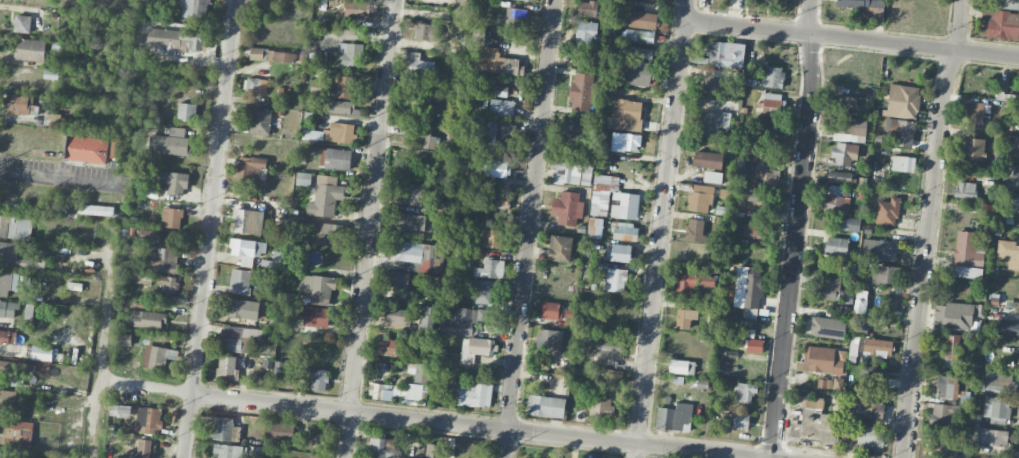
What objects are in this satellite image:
building: (776, 0)
building: (859, 4)
building: (1005, 4)
building: (587, 8)
building: (194, 9)
building: (357, 9)
road: (685, 10)
building: (515, 18)
building: (643, 20)
building: (22, 23)
building: (1002, 24)
building: (426, 31)
building: (587, 33)
building: (639, 35)
building: (173, 39)
road: (851, 39)
building: (30, 50)
building: (638, 52)
building: (725, 54)
building: (272, 55)
building: (349, 55)
building: (493, 60)
building: (420, 64)
building: (635, 73)
building: (772, 77)
building: (255, 86)
building: (712, 86)
building: (317, 87)
building: (343, 87)
building: (501, 88)
building: (581, 92)
building: (1009, 99)
building: (902, 101)
building: (845, 102)
building: (21, 104)
building: (770, 104)
building: (339, 106)
building: (501, 108)
building: (186, 112)
building: (975, 112)
building: (626, 115)
building: (716, 116)
building: (56, 119)
building: (259, 121)
building: (574, 128)
building: (850, 129)
building: (900, 132)
building: (333, 133)
building: (497, 135)
building: (423, 136)
building: (625, 142)
building: (170, 143)
building: (115, 148)
building: (972, 148)
building: (86, 149)
building: (1015, 149)
building: (845, 153)
building: (335, 158)
building: (708, 159)
building: (903, 163)
building: (250, 167)
building: (494, 168)
building: (567, 172)
building: (586, 174)
building: (1015, 174)
road: (58, 175)
building: (712, 177)
building: (766, 177)
building: (839, 177)
building: (303, 179)
building: (170, 181)
building: (965, 189)
building: (602, 192)
building: (409, 194)
building: (325, 196)
building: (755, 196)
building: (487, 198)
building: (700, 198)
building: (837, 199)
building: (1014, 201)
building: (624, 205)
building: (567, 208)
building: (887, 212)
building: (172, 217)
building: (247, 221)
building: (411, 222)
building: (853, 224)
building: (595, 227)
road: (928, 227)
road: (796, 228)
road: (209, 229)
road: (369, 229)
road: (529, 229)
building: (695, 230)
building: (758, 230)
building: (626, 231)
building: (327, 234)
building: (146, 235)
building: (492, 238)
road: (659, 238)
building: (836, 246)
building: (560, 248)
building: (883, 249)
building: (966, 249)
building: (247, 250)
building: (618, 253)
building: (1009, 253)
building: (417, 256)
building: (38, 260)
building: (163, 260)
building: (487, 268)
building: (968, 272)
building: (884, 274)
building: (238, 278)
building: (586, 278)
building: (395, 279)
building: (616, 280)
building: (8, 282)
building: (694, 282)
building: (167, 284)
building: (747, 287)
building: (317, 288)
building: (828, 288)
building: (483, 290)
building: (860, 301)
building: (240, 308)
building: (8, 309)
building: (549, 310)
building: (952, 316)
building: (315, 317)
building: (570, 317)
building: (397, 318)
building: (428, 318)
building: (685, 318)
building: (149, 319)
building: (461, 320)
building: (827, 327)
building: (1008, 327)
building: (7, 337)
building: (237, 338)
building: (549, 339)
building: (123, 340)
building: (754, 346)
building: (386, 347)
building: (877, 347)
building: (476, 349)
building: (609, 350)
building: (951, 350)
building: (41, 353)
building: (157, 357)
building: (822, 360)
building: (281, 367)
building: (681, 367)
building: (227, 368)
building: (420, 372)
building: (611, 376)
building: (872, 376)
building: (318, 379)
building: (1000, 384)
building: (945, 386)
building: (379, 391)
building: (413, 391)
building: (745, 392)
building: (471, 393)
building: (10, 398)
building: (545, 406)
building: (601, 406)
building: (869, 406)
building: (996, 407)
building: (120, 410)
road: (92, 411)
road: (363, 413)
building: (942, 416)
building: (674, 417)
building: (147, 420)
building: (739, 420)
building: (820, 421)
building: (223, 428)
building: (18, 432)
building: (279, 433)
building: (860, 434)
building: (990, 436)
building: (144, 448)
building: (382, 448)
building: (433, 450)
building: (229, 451)
building: (592, 456)

